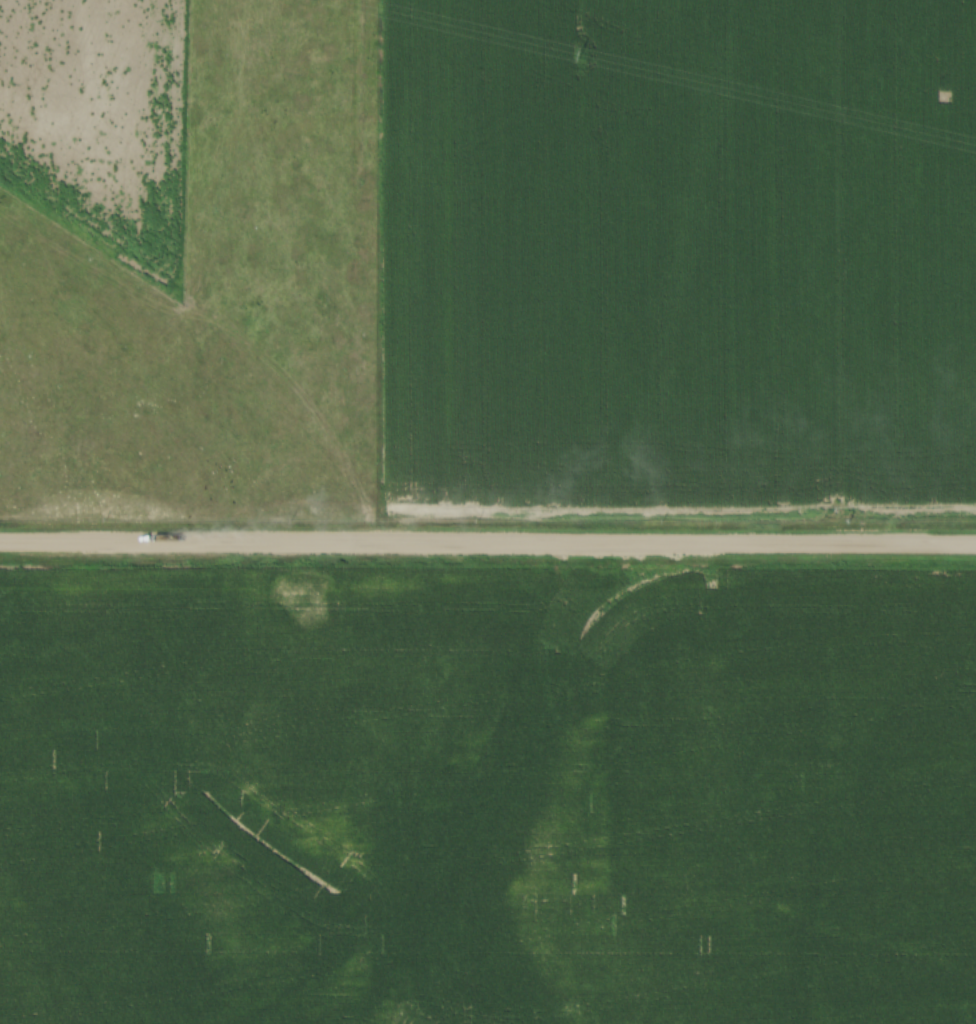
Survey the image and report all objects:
power tower: (580, 52)
road: (487, 545)

